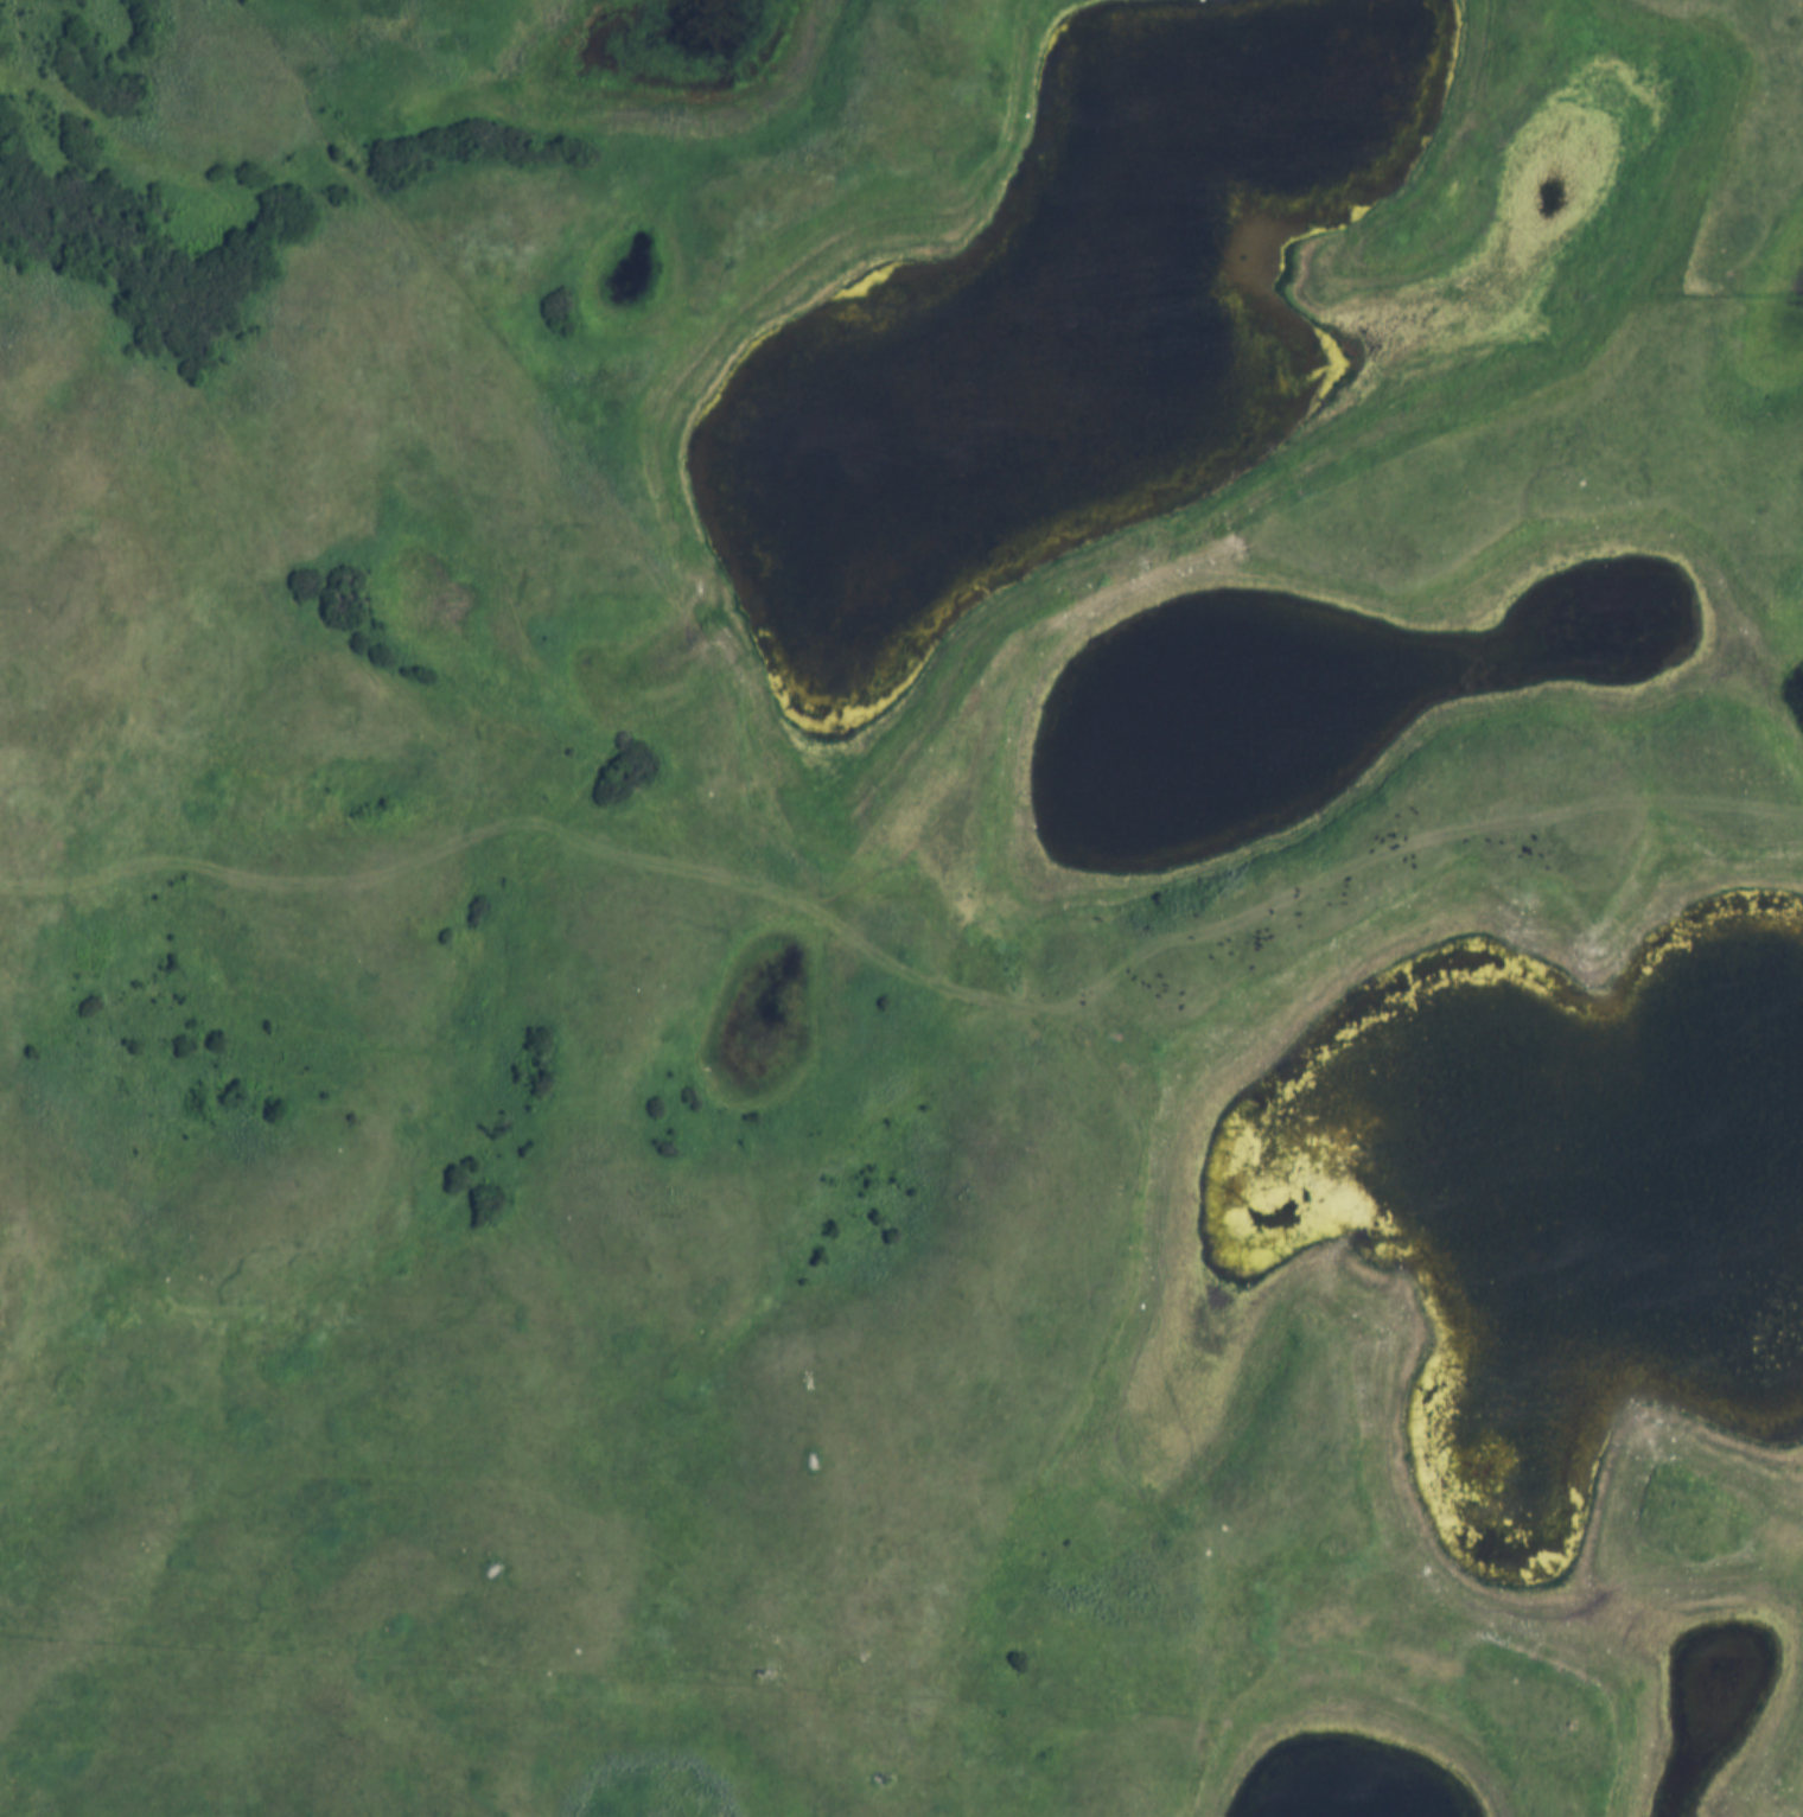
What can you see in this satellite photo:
road: (1635, 406)

